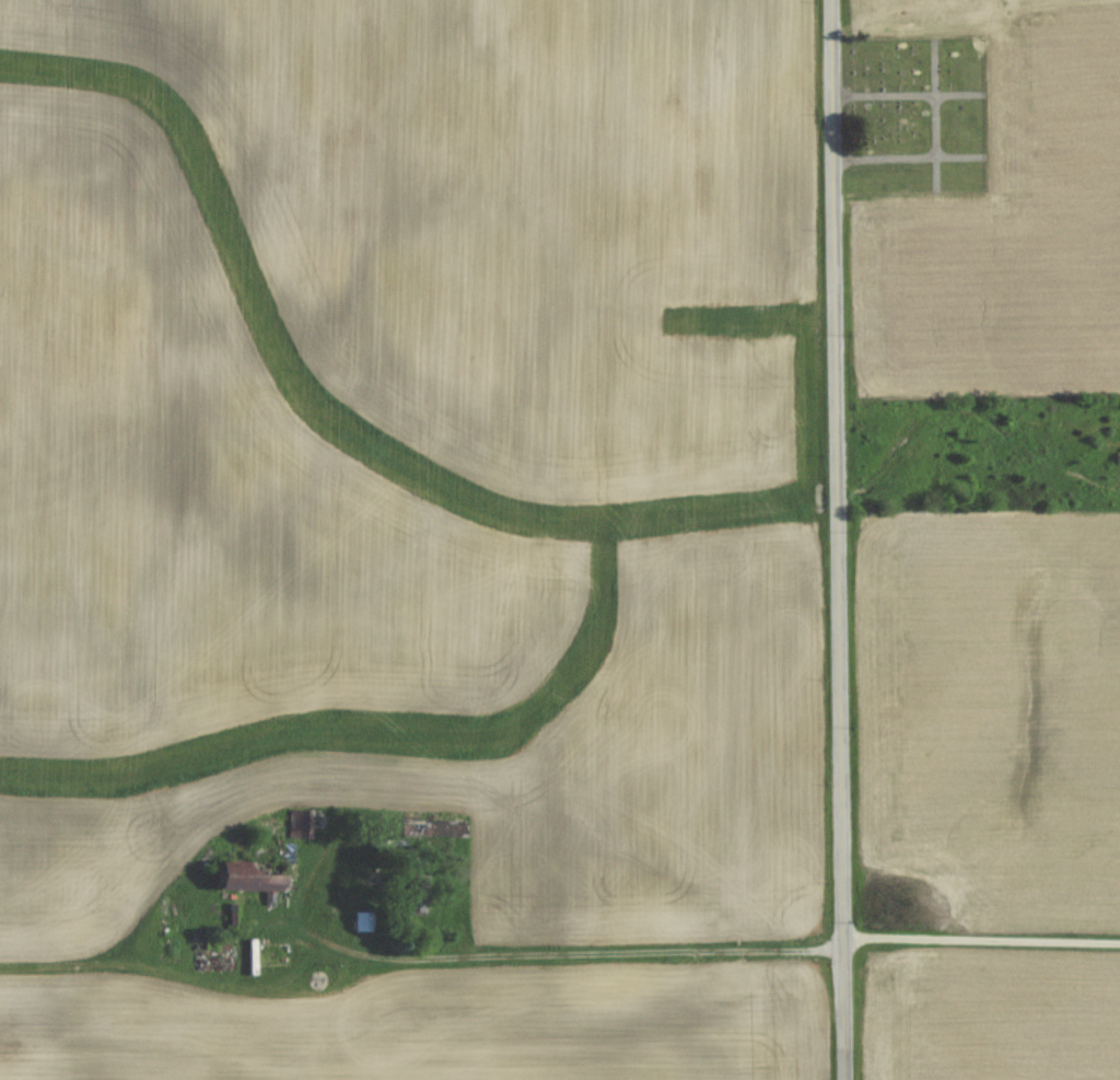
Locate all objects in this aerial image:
park: (917, 113)
road: (839, 539)
building: (296, 822)
building: (437, 829)
building: (248, 875)
building: (364, 920)
road: (746, 949)
building: (272, 952)

